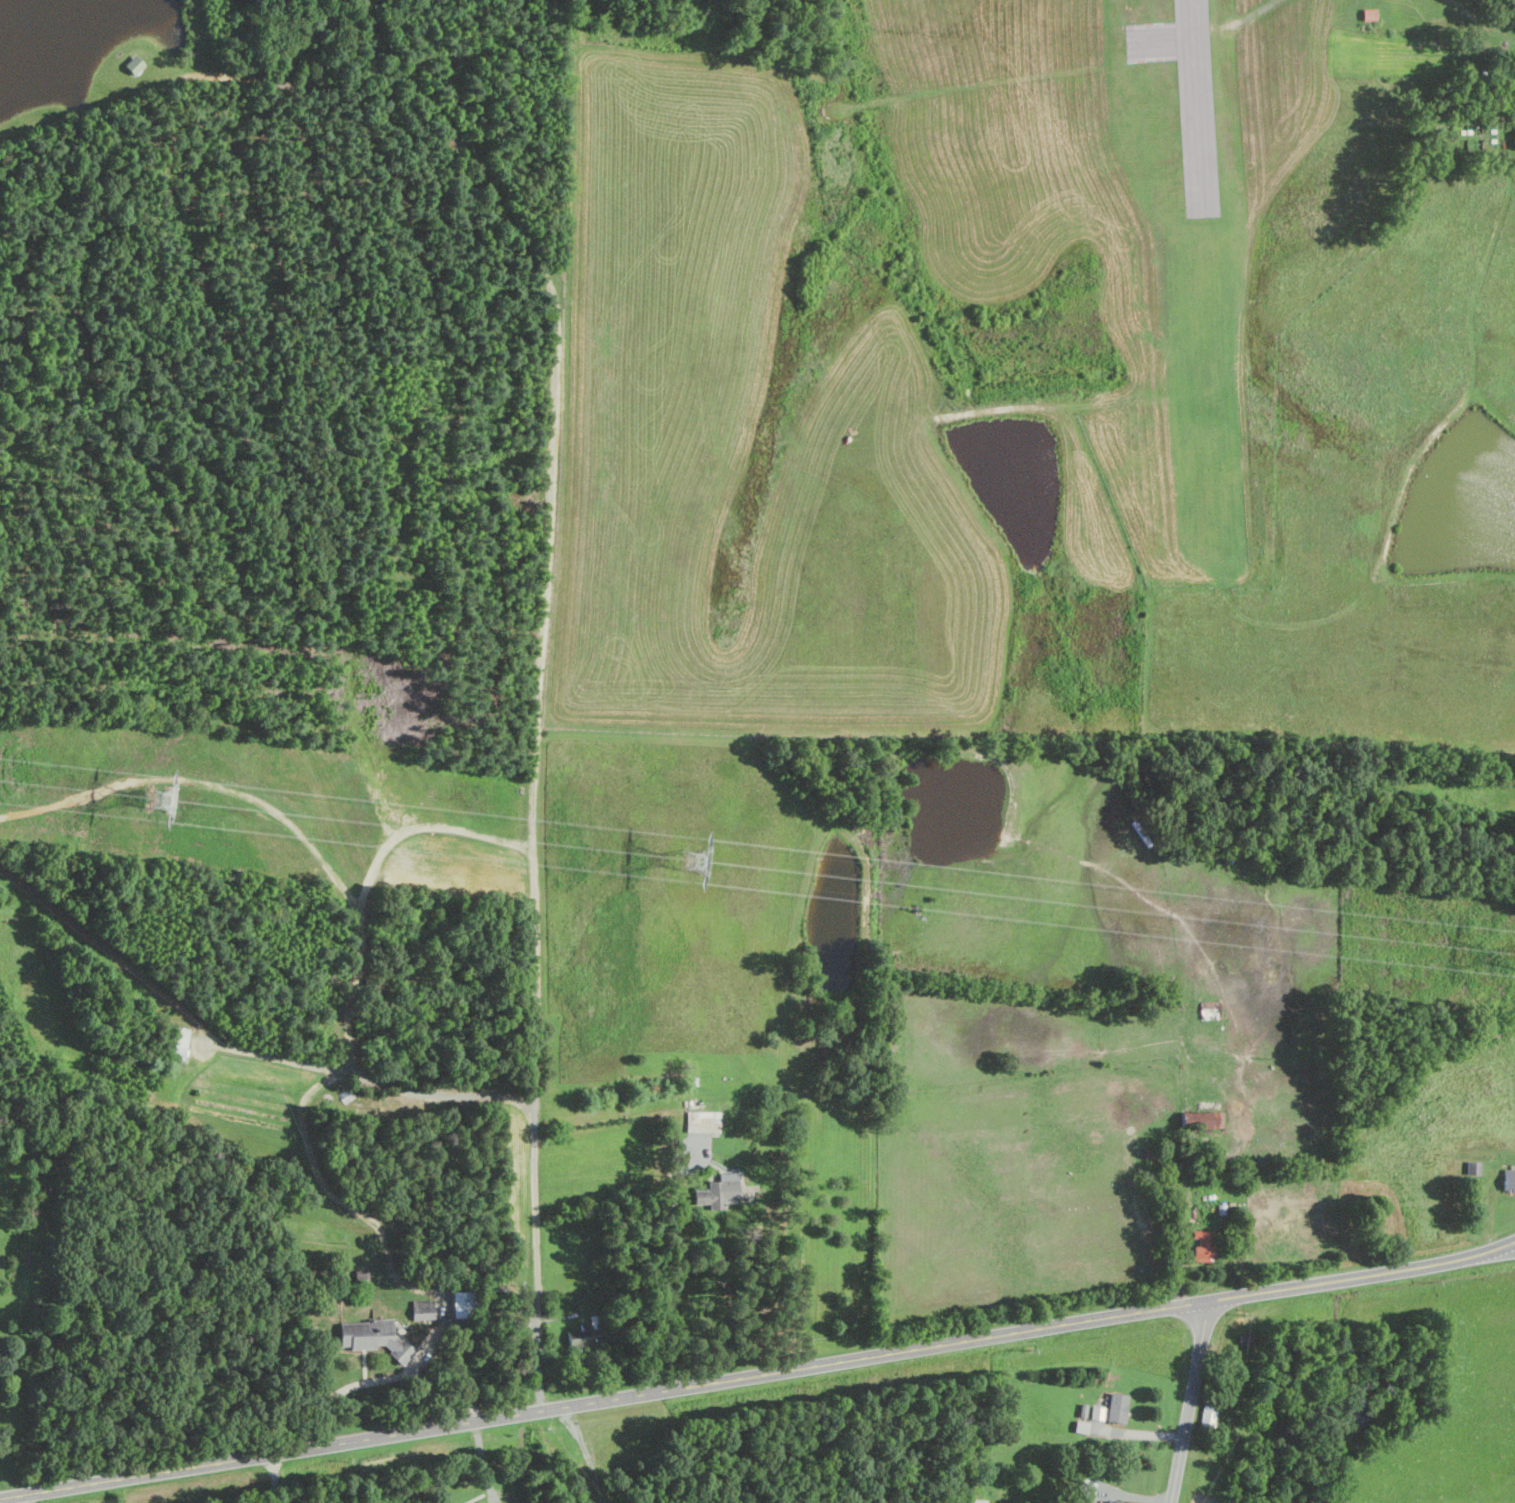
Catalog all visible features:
building: (1370, 14)
road: (1480, 23)
building: (134, 64)
road: (551, 688)
power tower: (159, 797)
road: (486, 843)
power tower: (697, 861)
building: (181, 1042)
road: (516, 1102)
building: (1509, 1179)
building: (718, 1193)
road: (374, 1223)
building: (1207, 1245)
road: (675, 1268)
building: (464, 1304)
building: (584, 1336)
building: (389, 1345)
road: (758, 1376)
road: (371, 1381)
road: (1189, 1402)
building: (1117, 1407)
building: (1097, 1412)
building: (1208, 1415)
building: (1081, 1427)
road: (586, 1455)
road: (279, 1478)
road: (32, 1498)
building: (1103, 1502)

